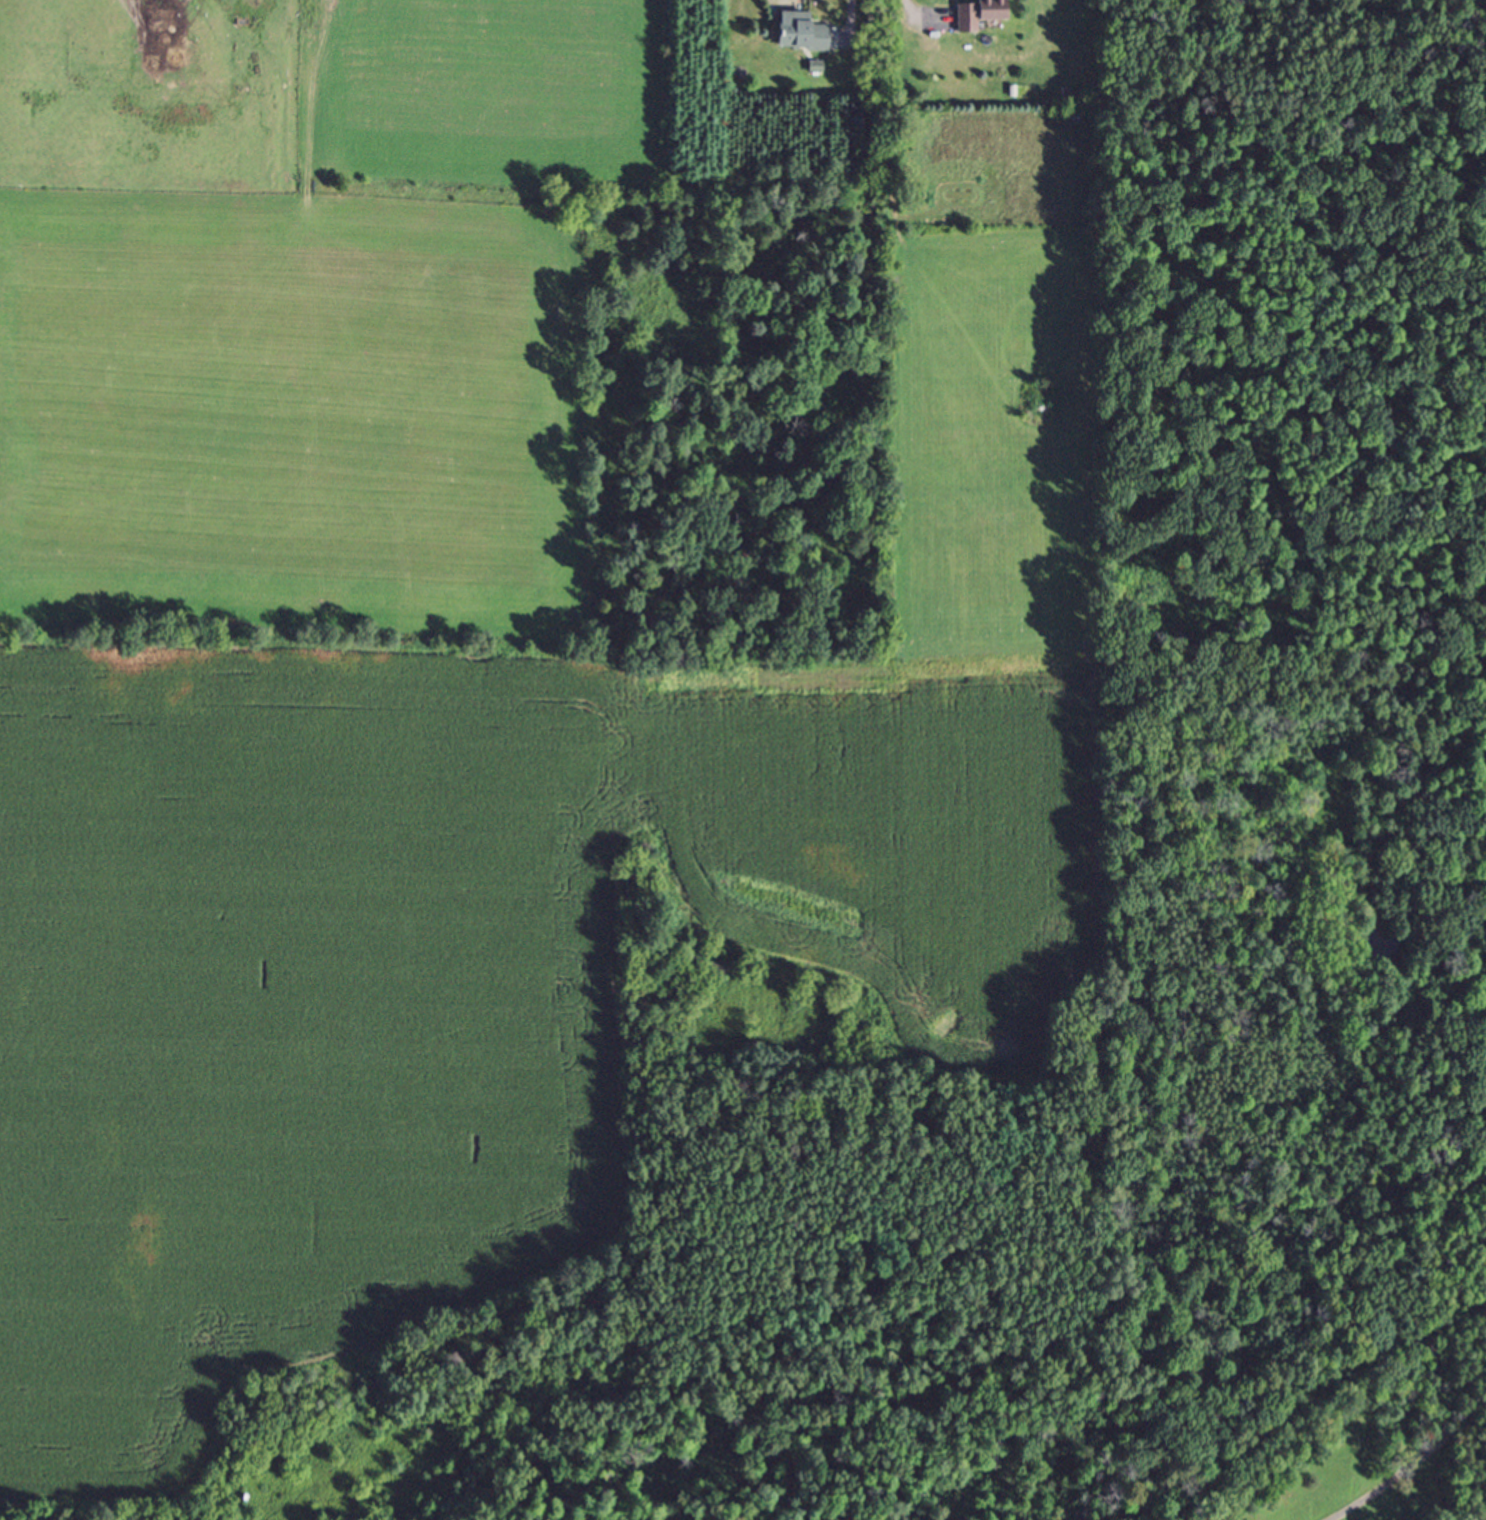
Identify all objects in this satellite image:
building: (979, 16)
road: (922, 19)
building: (800, 35)

